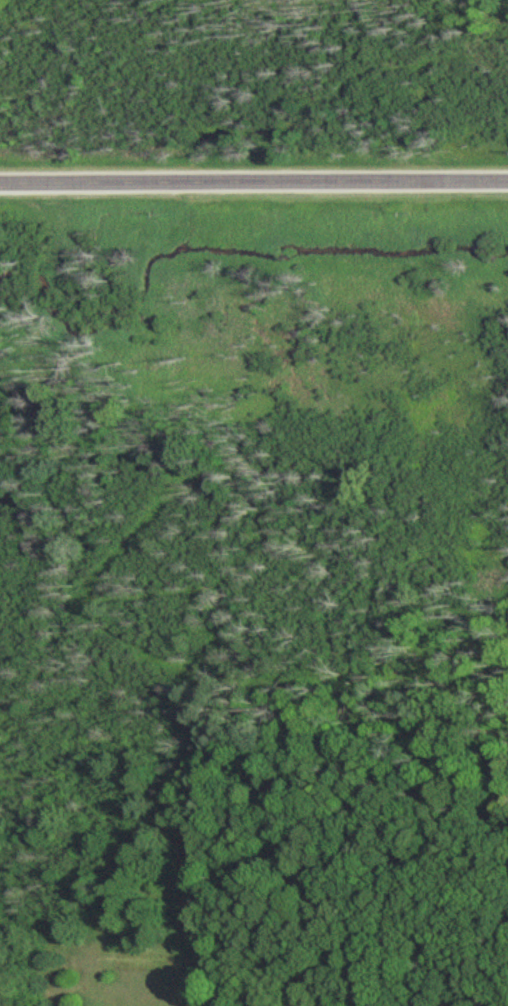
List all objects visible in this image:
road: (254, 184)

